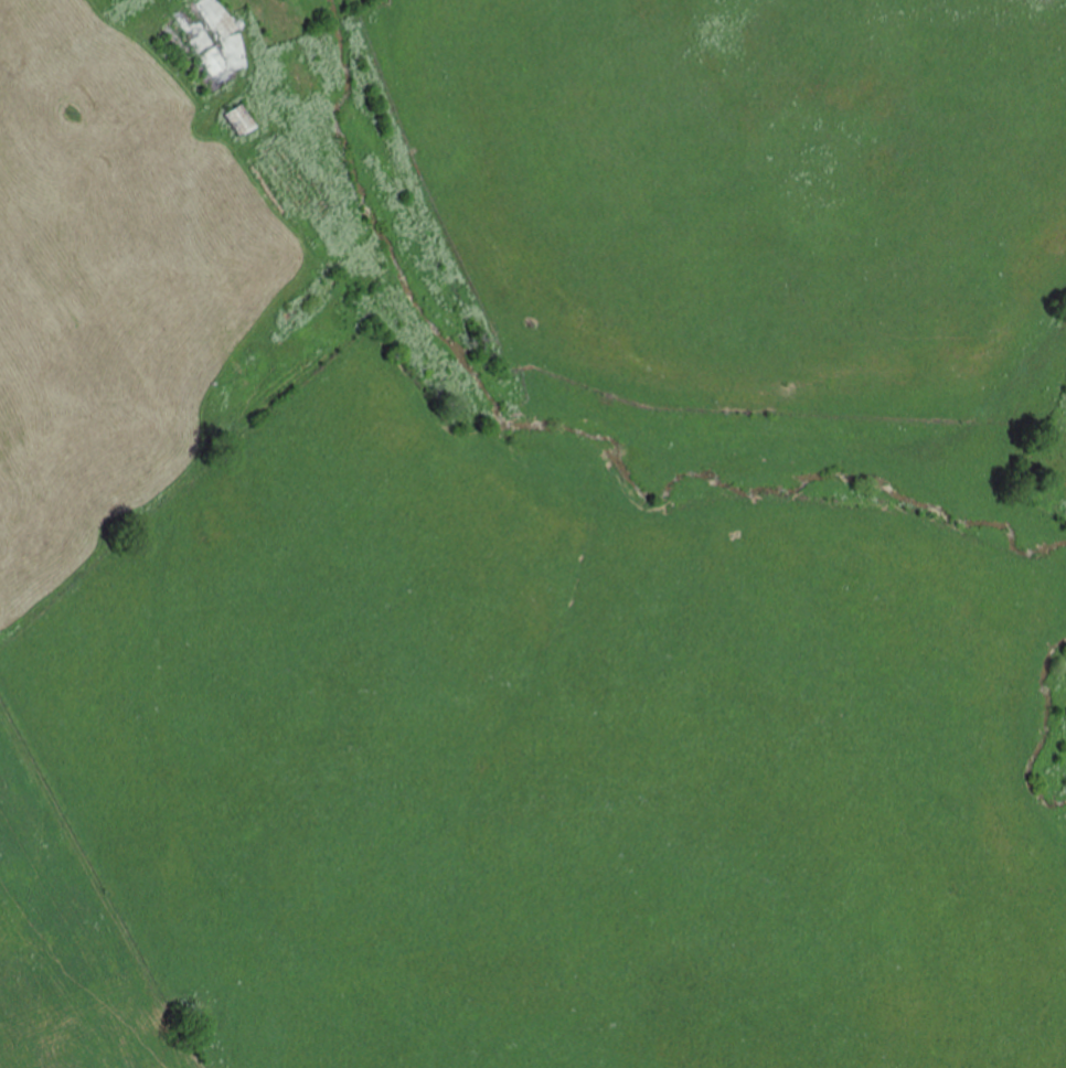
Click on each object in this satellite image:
building: (202, 53)
building: (242, 121)

